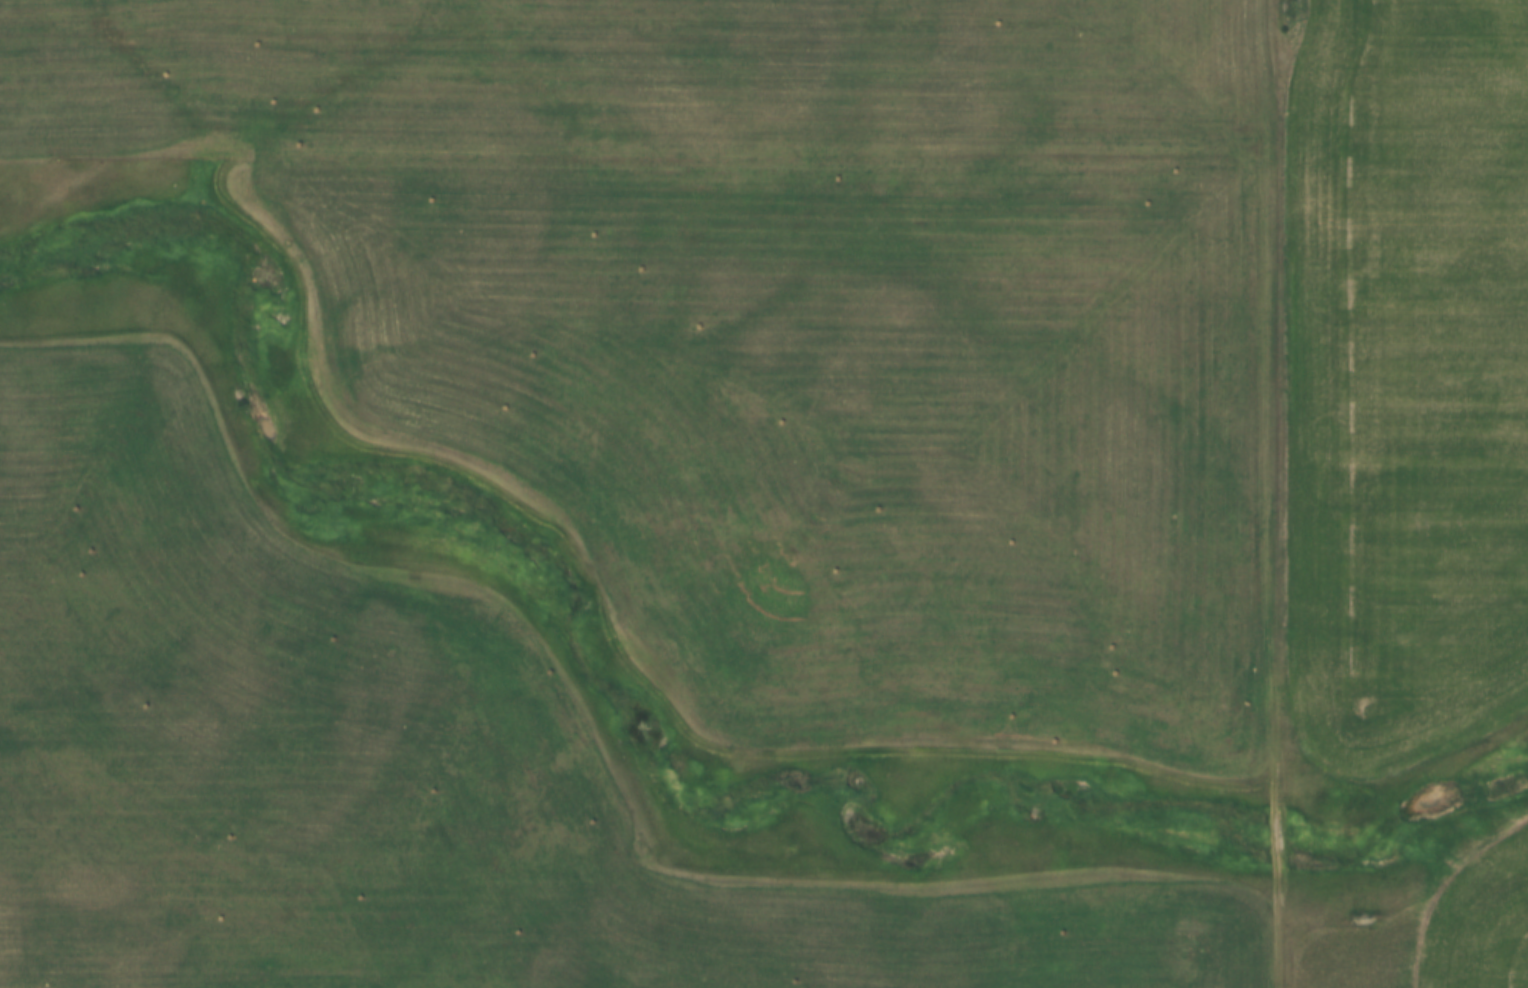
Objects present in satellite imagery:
road: (1284, 493)

